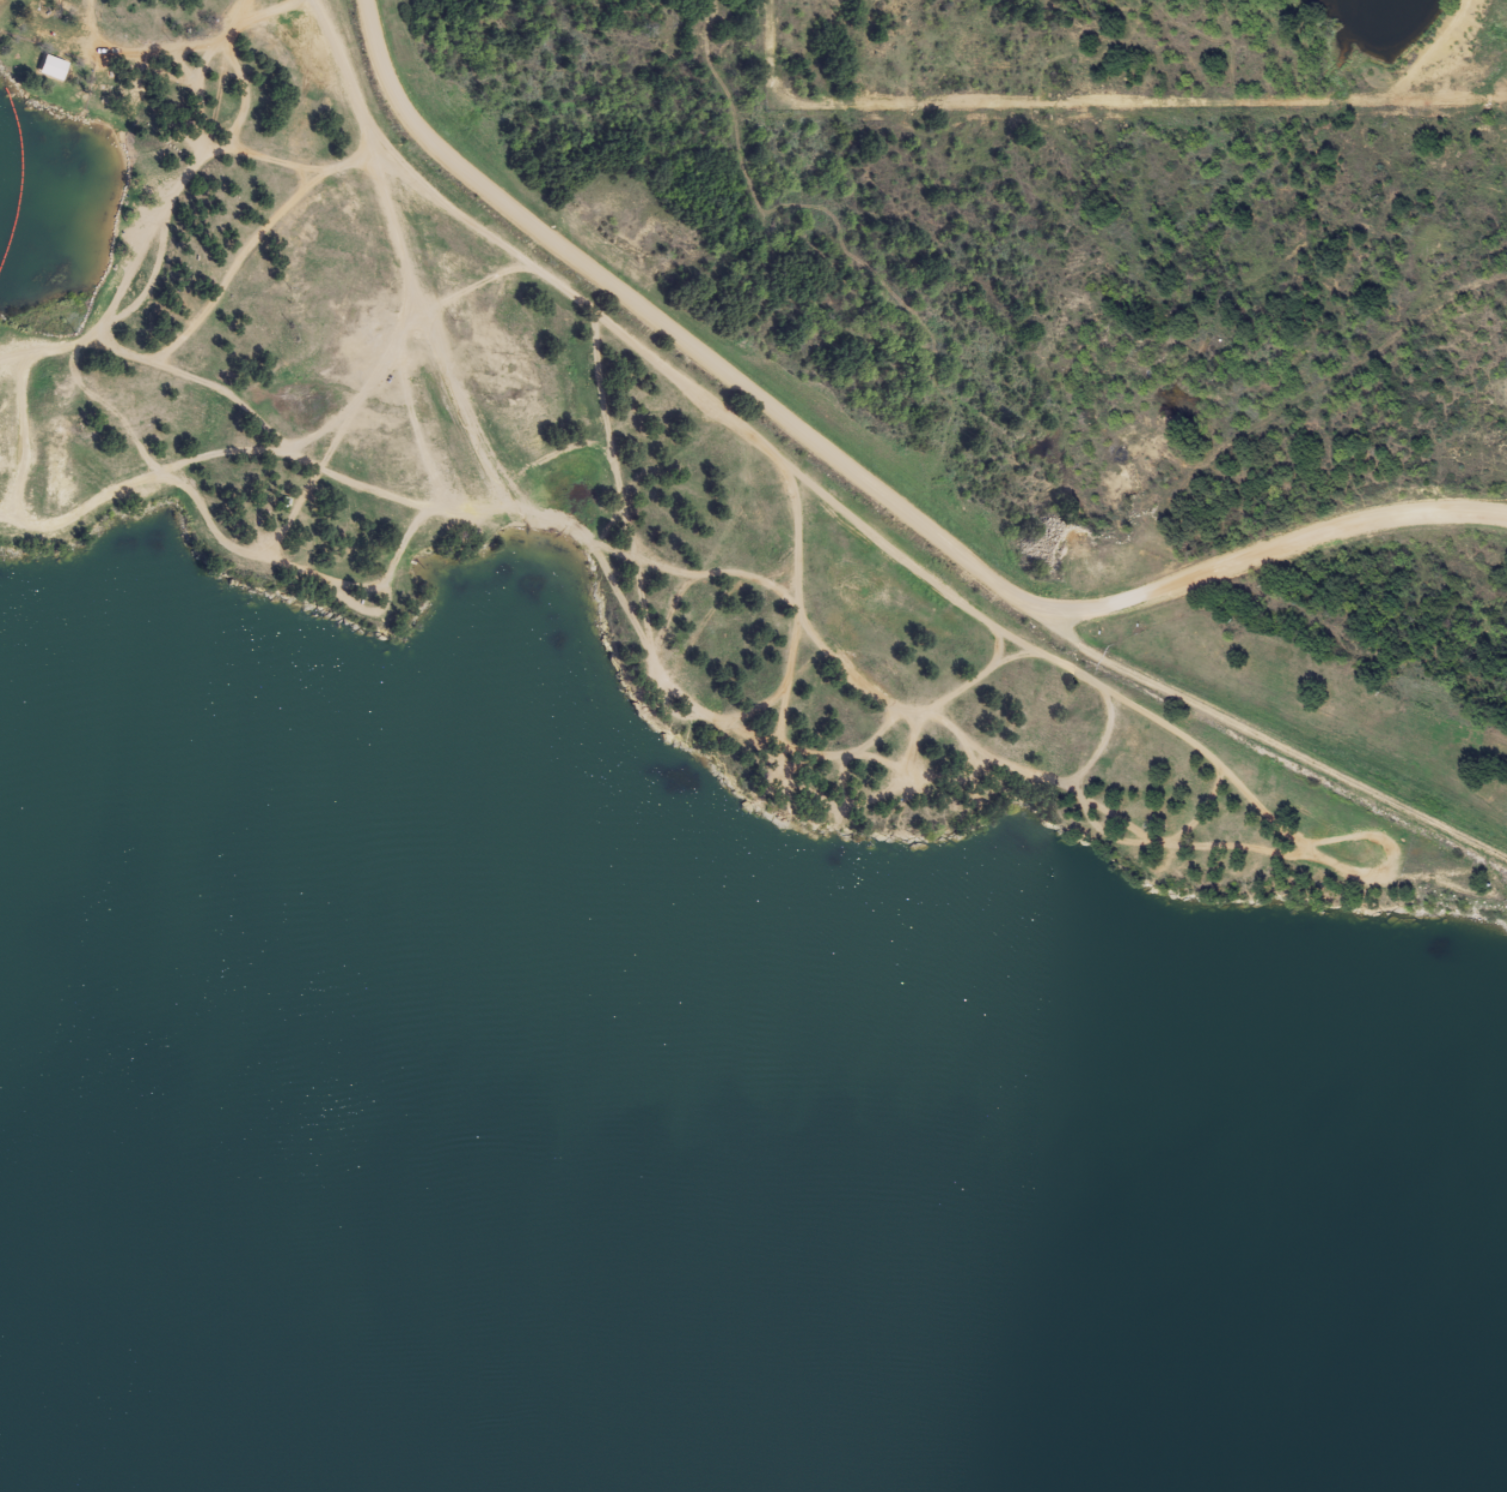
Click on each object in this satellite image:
road: (133, 52)
building: (49, 75)
road: (271, 160)
road: (177, 188)
road: (249, 247)
road: (673, 335)
road: (242, 452)
road: (290, 453)
road: (818, 491)
road: (1276, 550)
road: (611, 583)
road: (1274, 741)
dam: (1332, 766)
road: (1500, 885)

